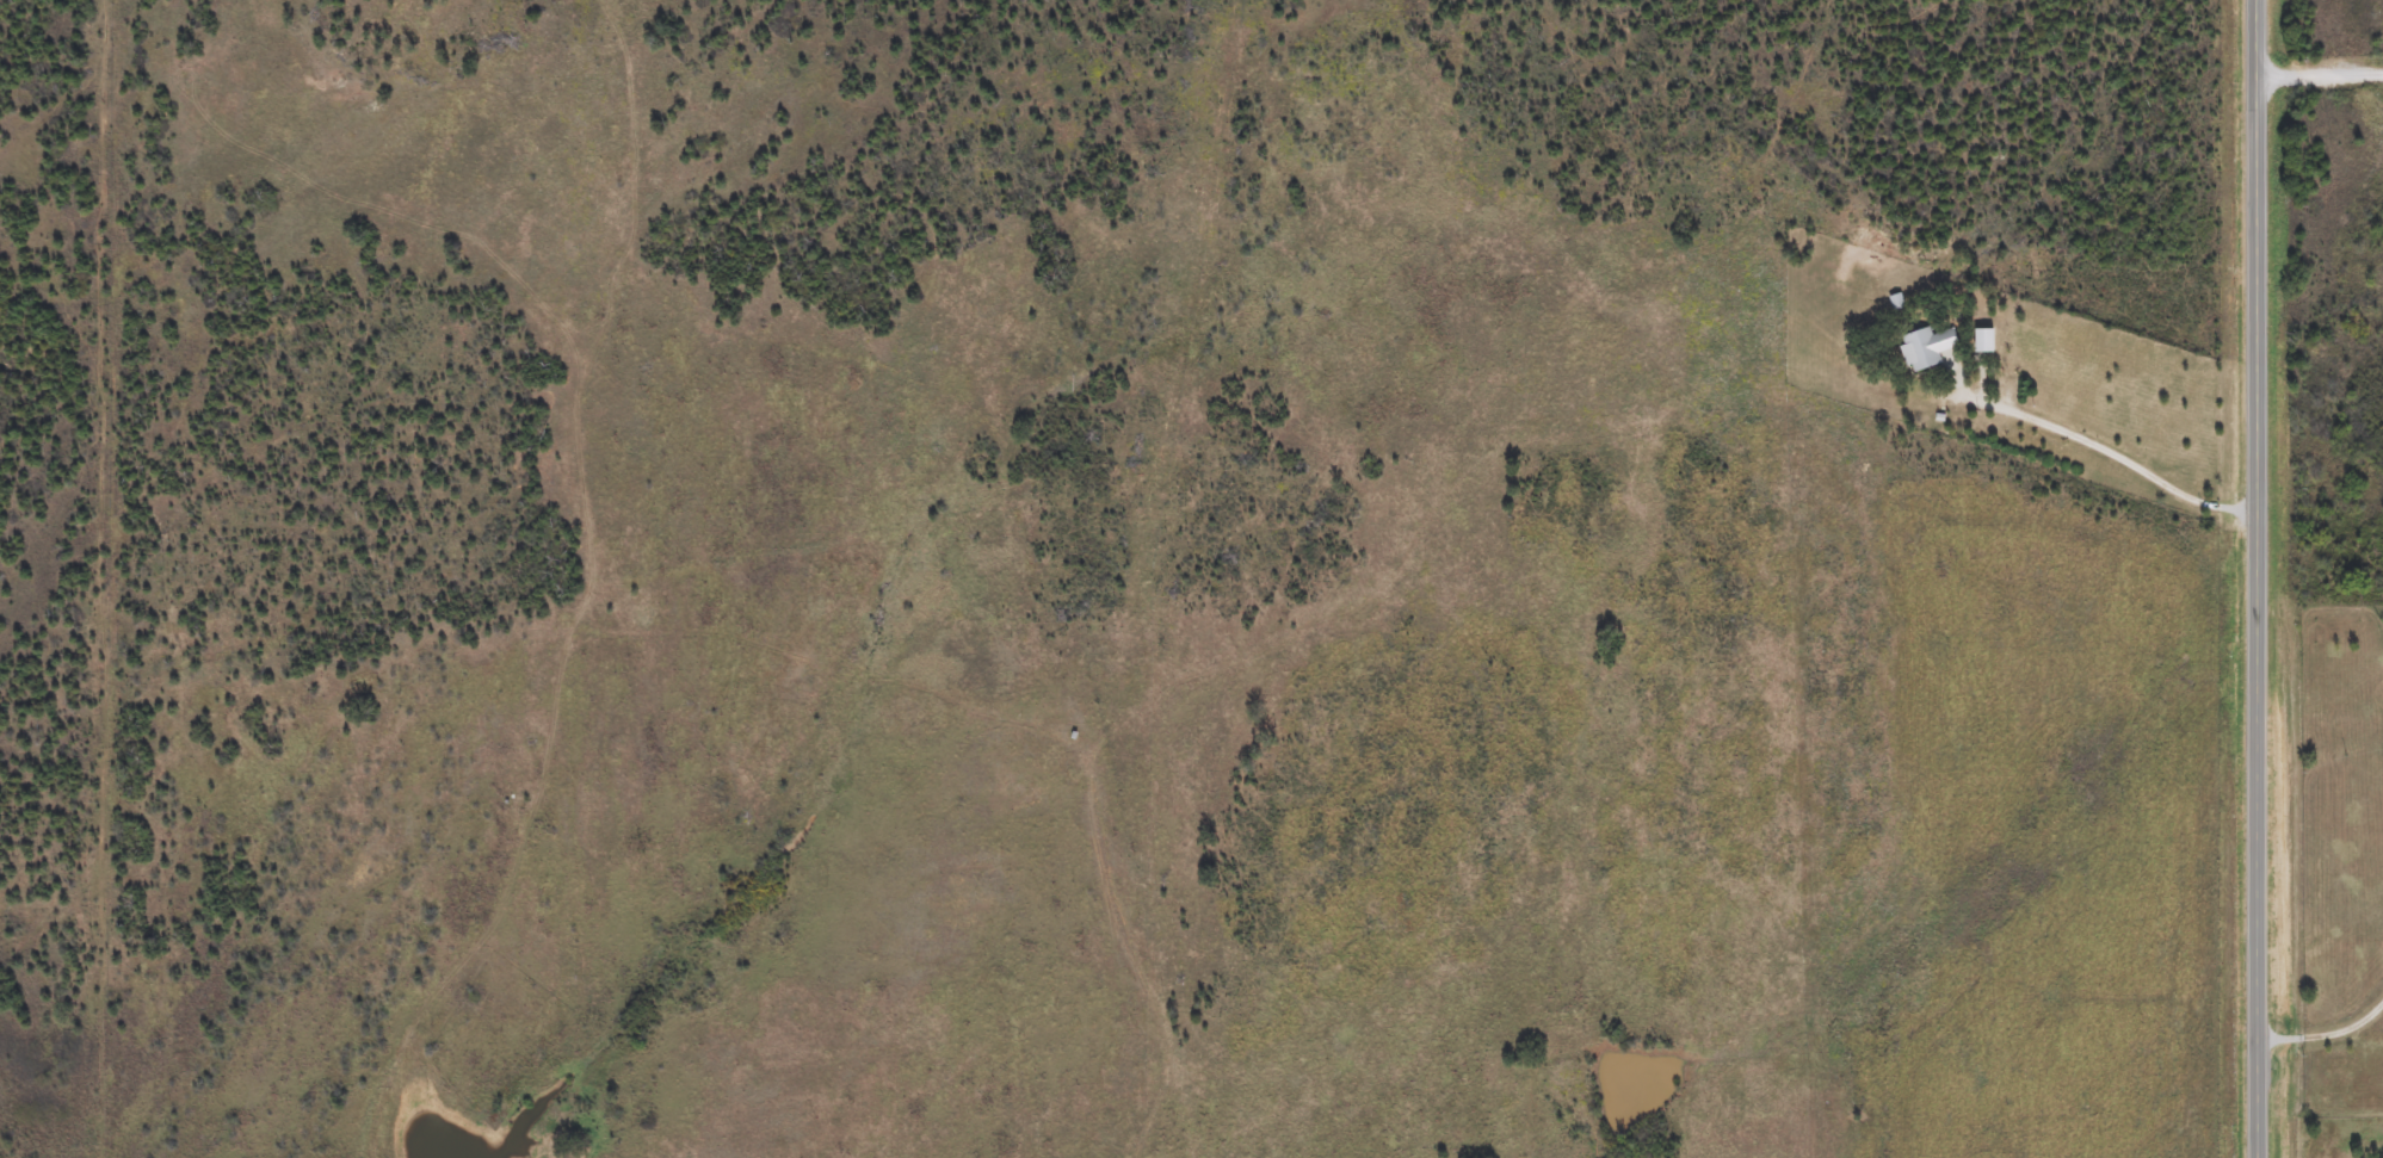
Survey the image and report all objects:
building: (1986, 340)
building: (1926, 347)
road: (2258, 578)

